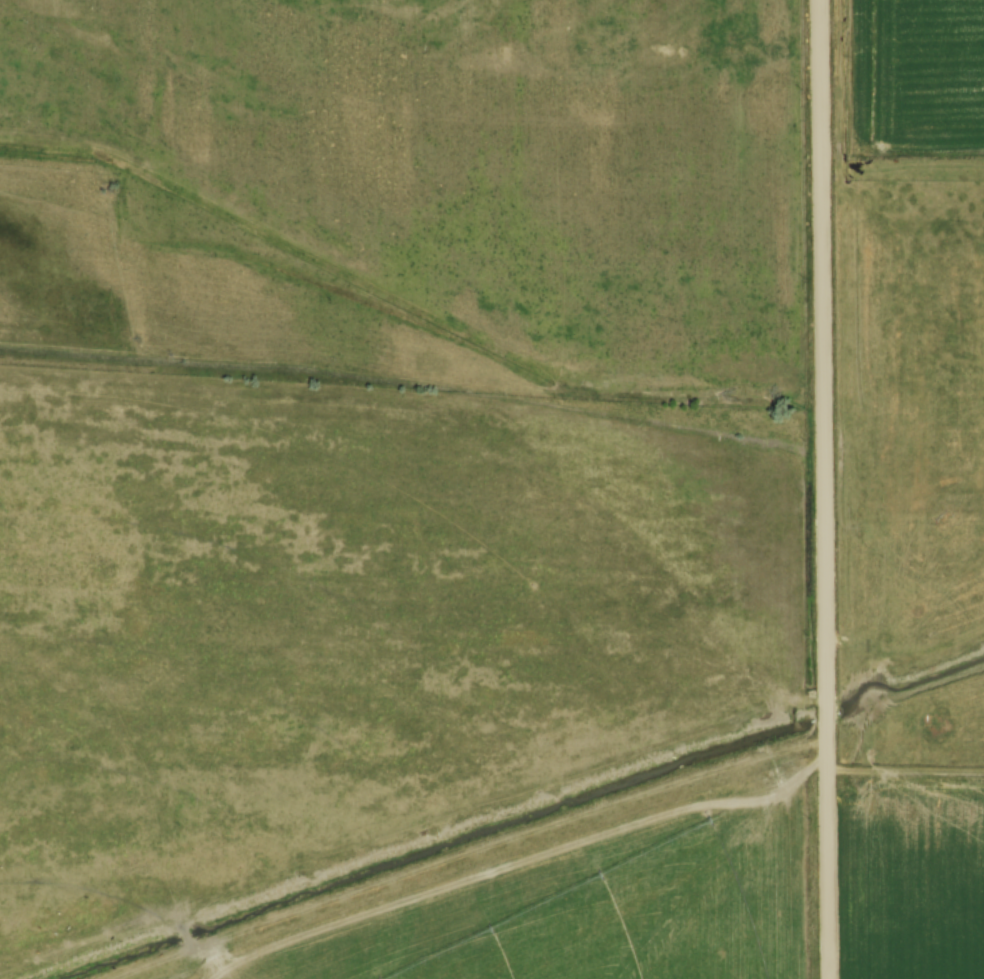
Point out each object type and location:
road: (828, 489)

